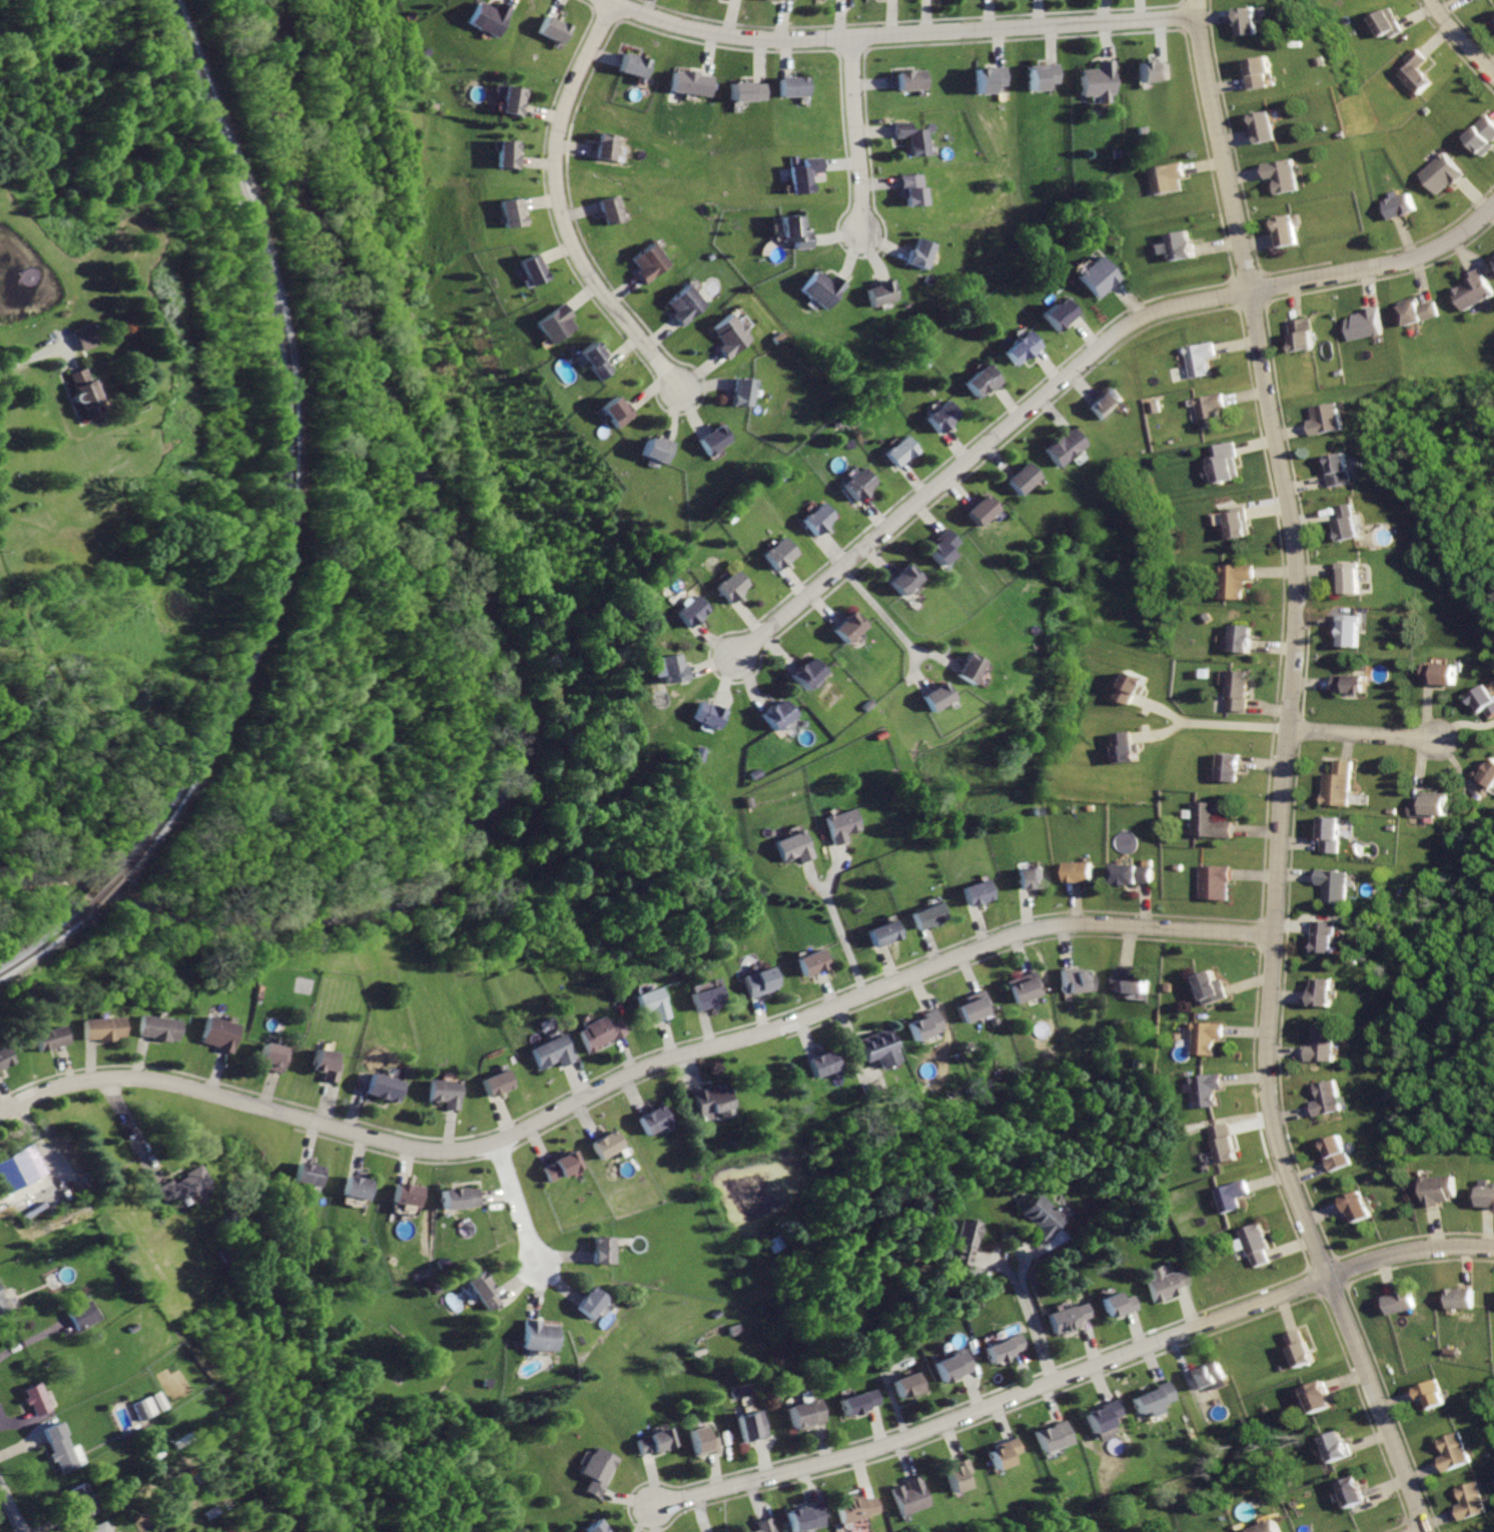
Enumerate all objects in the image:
building: (493, 18)
building: (1249, 22)
building: (1392, 24)
building: (557, 30)
road: (899, 35)
road: (1461, 39)
building: (636, 64)
building: (1153, 70)
building: (1420, 72)
building: (1260, 73)
building: (1042, 76)
building: (913, 79)
building: (991, 80)
building: (696, 82)
building: (1101, 82)
building: (797, 87)
building: (752, 91)
building: (516, 102)
building: (1264, 126)
road: (855, 134)
building: (914, 137)
building: (1482, 138)
building: (611, 148)
building: (510, 155)
building: (1279, 173)
building: (805, 174)
building: (1439, 175)
building: (1169, 179)
building: (912, 188)
road: (563, 206)
building: (1396, 207)
building: (610, 209)
building: (514, 213)
building: (790, 230)
building: (1283, 231)
building: (1183, 246)
building: (918, 252)
building: (1492, 259)
building: (647, 265)
building: (529, 272)
road: (1380, 275)
building: (1096, 276)
building: (819, 288)
building: (1471, 291)
building: (879, 292)
building: (680, 304)
building: (1418, 313)
building: (1059, 315)
building: (549, 324)
building: (1366, 325)
building: (1301, 333)
building: (81, 336)
building: (727, 337)
building: (1021, 350)
road: (29, 354)
building: (587, 359)
building: (1202, 360)
building: (979, 381)
building: (741, 392)
building: (83, 393)
building: (1107, 403)
building: (1212, 409)
building: (611, 412)
building: (939, 418)
building: (1330, 420)
building: (713, 439)
building: (1067, 446)
railway: (290, 447)
building: (659, 450)
road: (979, 451)
building: (901, 452)
building: (1223, 463)
building: (1341, 469)
building: (1023, 479)
building: (860, 485)
building: (982, 511)
building: (819, 521)
building: (1236, 521)
building: (1351, 521)
building: (941, 547)
building: (781, 555)
building: (1349, 578)
building: (1235, 580)
building: (903, 581)
building: (735, 585)
building: (696, 612)
building: (851, 627)
road: (894, 627)
building: (1348, 630)
building: (1239, 639)
building: (675, 667)
building: (969, 669)
road: (914, 671)
building: (1442, 673)
building: (808, 675)
building: (1132, 678)
building: (1349, 682)
building: (1240, 691)
building: (934, 697)
road: (1159, 702)
building: (1485, 702)
building: (709, 715)
building: (776, 717)
road: (1233, 717)
road: (1160, 725)
road: (1467, 728)
road: (1364, 736)
building: (1131, 740)
building: (1231, 767)
road: (1281, 775)
building: (1487, 775)
building: (1341, 784)
building: (1432, 808)
building: (1214, 822)
building: (838, 824)
building: (1334, 834)
building: (792, 847)
road: (838, 870)
building: (1132, 872)
building: (1080, 873)
building: (1030, 877)
building: (1216, 882)
road: (815, 883)
building: (1335, 886)
railway: (105, 889)
building: (976, 892)
building: (928, 915)
building: (883, 932)
building: (1330, 936)
railway: (45, 941)
road: (848, 946)
building: (811, 963)
building: (1075, 979)
building: (1130, 980)
building: (759, 982)
building: (1024, 986)
building: (1210, 988)
building: (1323, 991)
building: (703, 996)
building: (651, 1004)
building: (978, 1006)
building: (925, 1024)
building: (100, 1027)
building: (157, 1028)
building: (216, 1032)
building: (596, 1034)
building: (47, 1037)
building: (1206, 1038)
building: (882, 1047)
building: (1322, 1050)
building: (549, 1053)
building: (5, 1055)
building: (273, 1057)
road: (856, 1063)
building: (824, 1064)
building: (324, 1065)
road: (631, 1073)
building: (494, 1085)
building: (383, 1088)
building: (1206, 1091)
building: (445, 1092)
building: (714, 1099)
building: (1329, 1100)
building: (654, 1120)
road: (130, 1132)
building: (610, 1144)
building: (1222, 1144)
building: (1341, 1154)
building: (560, 1165)
building: (20, 1168)
building: (310, 1174)
building: (358, 1185)
building: (181, 1186)
building: (1441, 1191)
building: (407, 1193)
building: (1234, 1196)
building: (1488, 1197)
building: (462, 1198)
road: (519, 1204)
building: (1360, 1206)
building: (1039, 1219)
building: (960, 1243)
building: (1257, 1244)
building: (603, 1250)
building: (1164, 1283)
building: (483, 1291)
building: (1460, 1299)
building: (3, 1301)
building: (591, 1304)
building: (1400, 1304)
building: (1115, 1305)
road: (1021, 1307)
road: (1032, 1309)
building: (82, 1314)
building: (1066, 1316)
building: (537, 1335)
road: (32, 1338)
building: (1297, 1347)
building: (1002, 1348)
building: (953, 1365)
road: (1075, 1373)
building: (1207, 1373)
building: (908, 1384)
building: (1429, 1395)
building: (1154, 1397)
building: (35, 1398)
building: (1315, 1398)
building: (857, 1401)
building: (140, 1408)
building: (806, 1413)
building: (1104, 1418)
building: (753, 1426)
building: (1055, 1436)
building: (656, 1441)
building: (703, 1443)
building: (1335, 1446)
building: (62, 1449)
building: (1003, 1451)
building: (1453, 1454)
building: (600, 1471)
building: (956, 1473)
building: (1352, 1493)
building: (910, 1496)
building: (84, 1502)
building: (1471, 1502)
building: (856, 1507)
road: (11, 1508)
building: (806, 1517)
building: (765, 1525)
building: (1267, 1527)
building: (98, 1528)
building: (233, 1528)
building: (599, 1528)
building: (716, 1531)
building: (1484, 1531)

